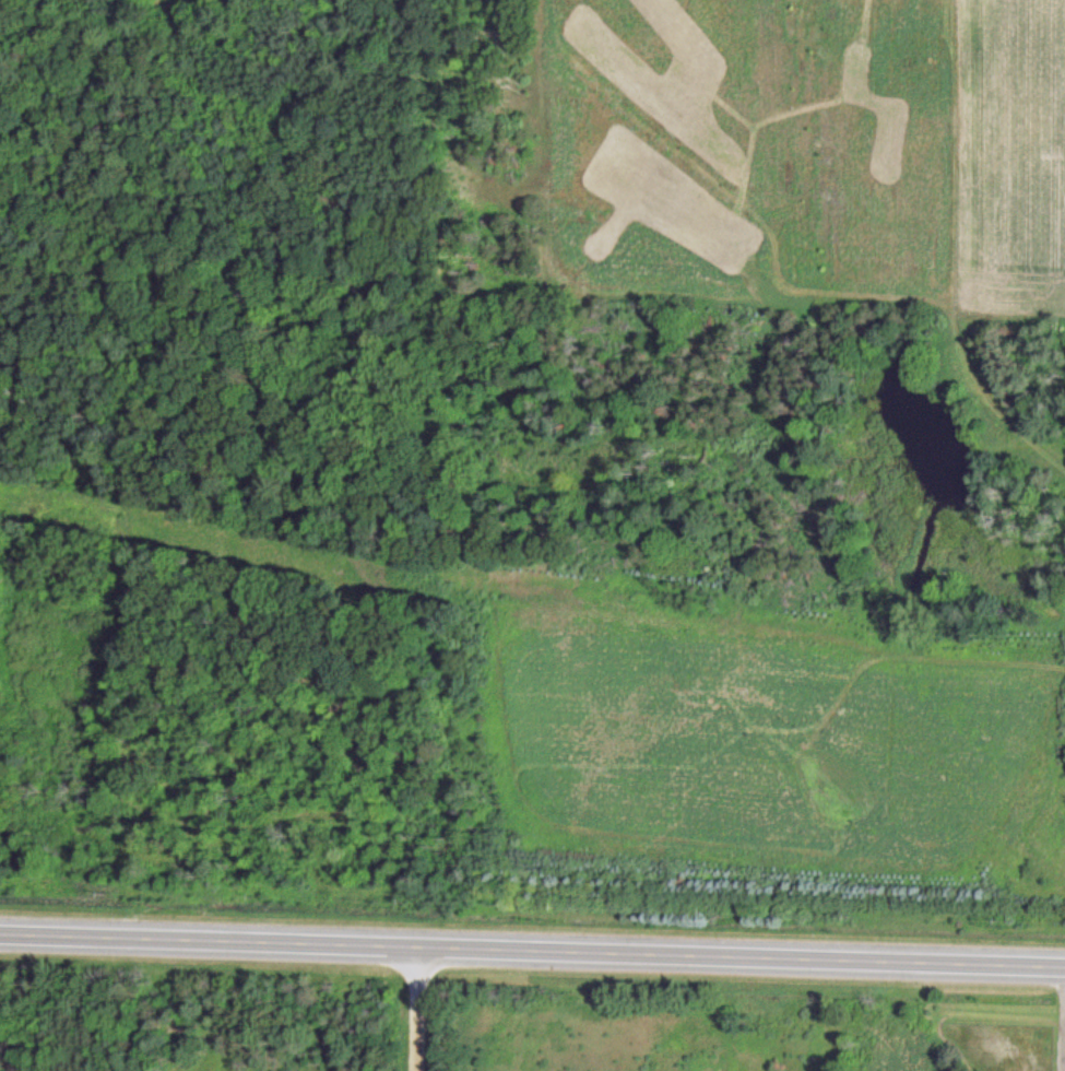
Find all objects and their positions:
road: (532, 950)
road: (419, 1009)

